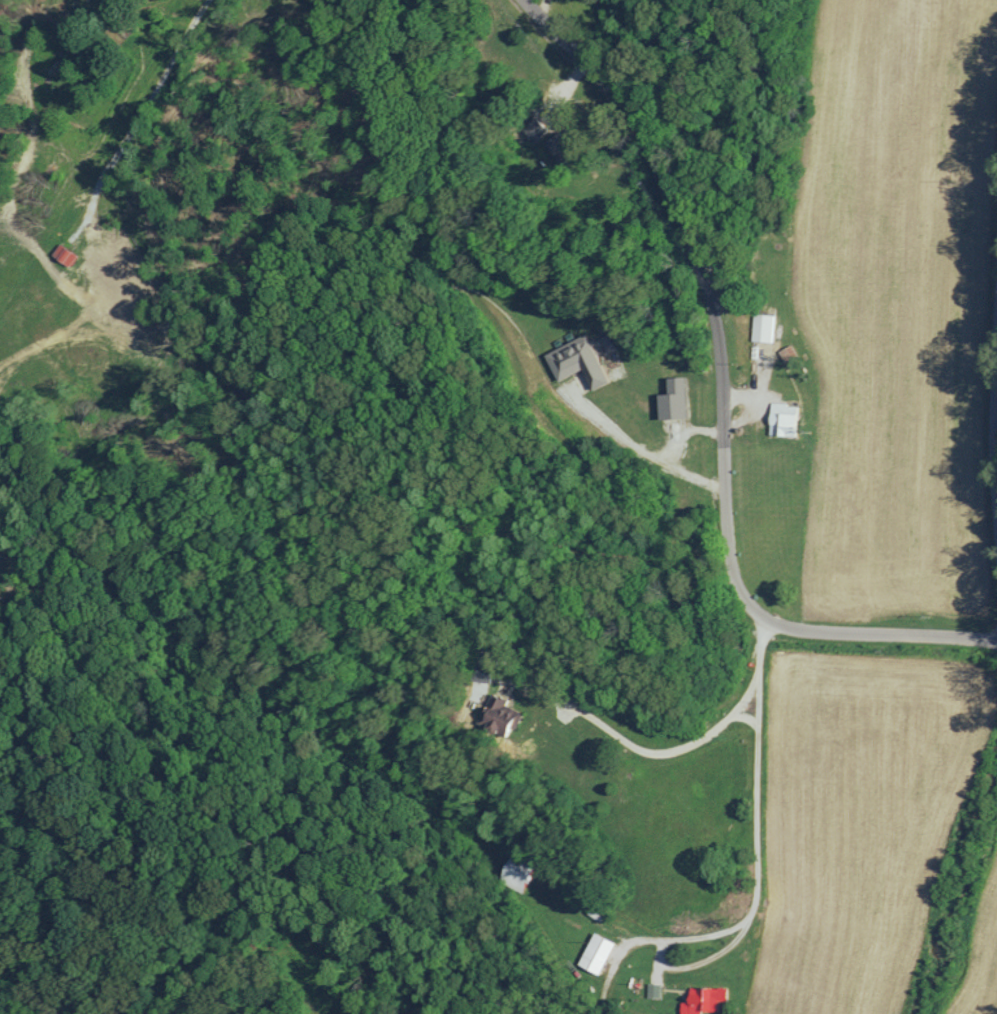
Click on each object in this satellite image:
building: (534, 129)
building: (556, 144)
building: (63, 254)
building: (762, 327)
building: (605, 341)
building: (577, 361)
building: (673, 399)
road: (990, 408)
road: (720, 410)
building: (782, 419)
road: (680, 429)
road: (639, 450)
building: (481, 671)
building: (499, 715)
road: (632, 752)
road: (757, 783)
building: (518, 874)
building: (595, 953)
road: (728, 954)
building: (653, 990)
building: (702, 1000)

